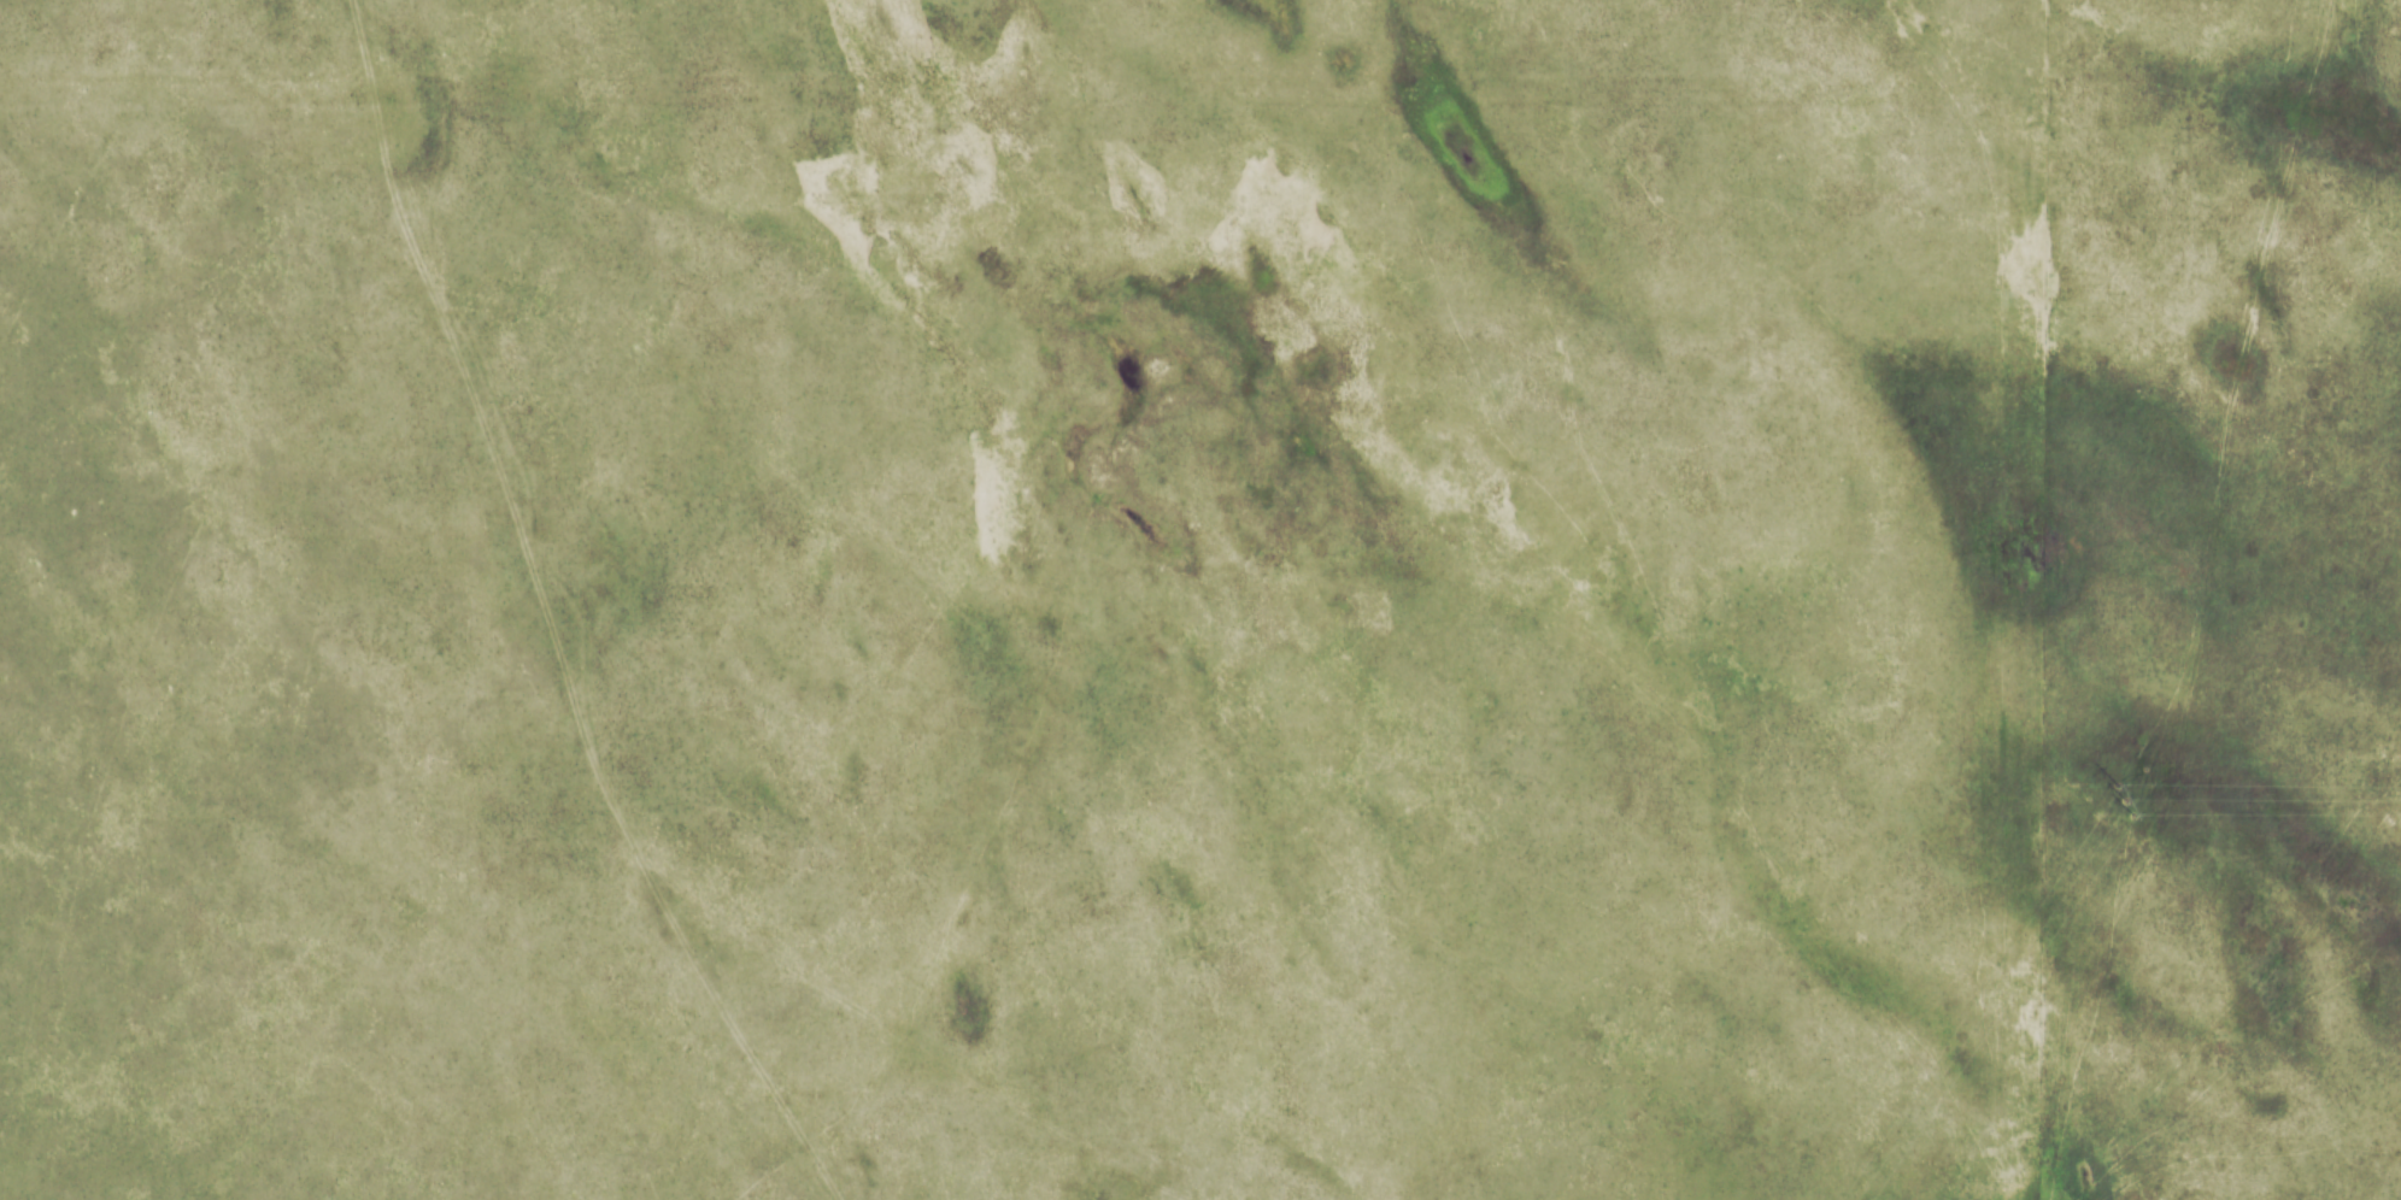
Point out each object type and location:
power tower: (2125, 801)

